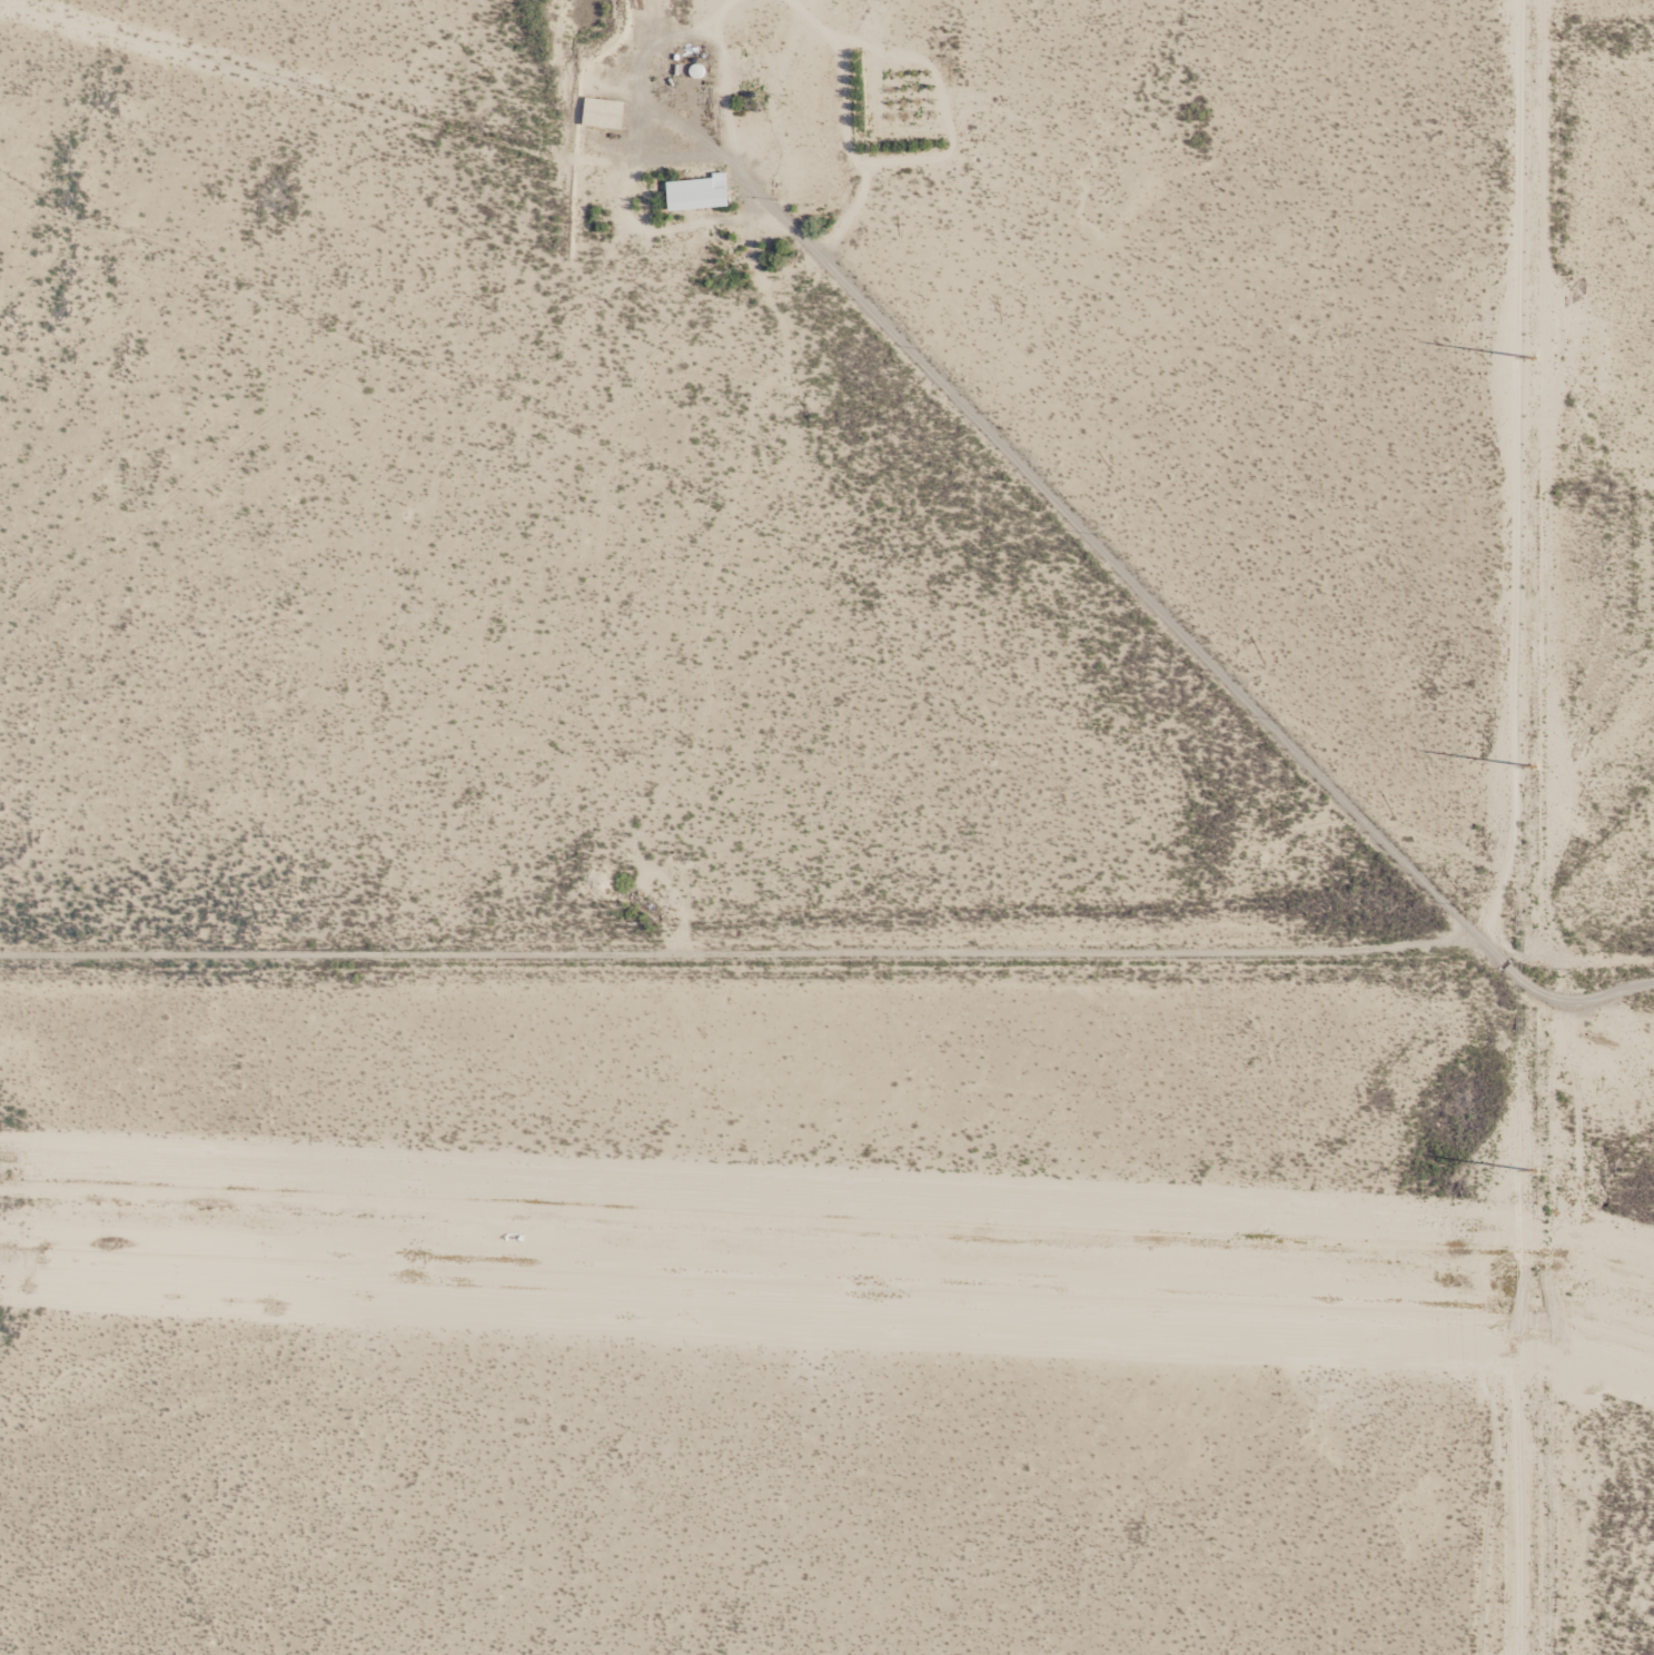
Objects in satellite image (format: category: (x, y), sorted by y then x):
road: (834, 939)

